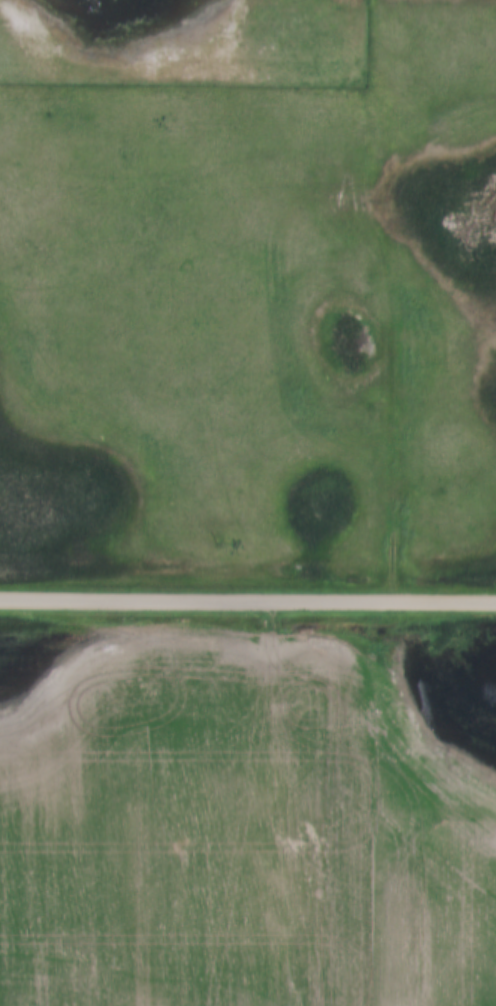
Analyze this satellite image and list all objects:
road: (248, 605)

